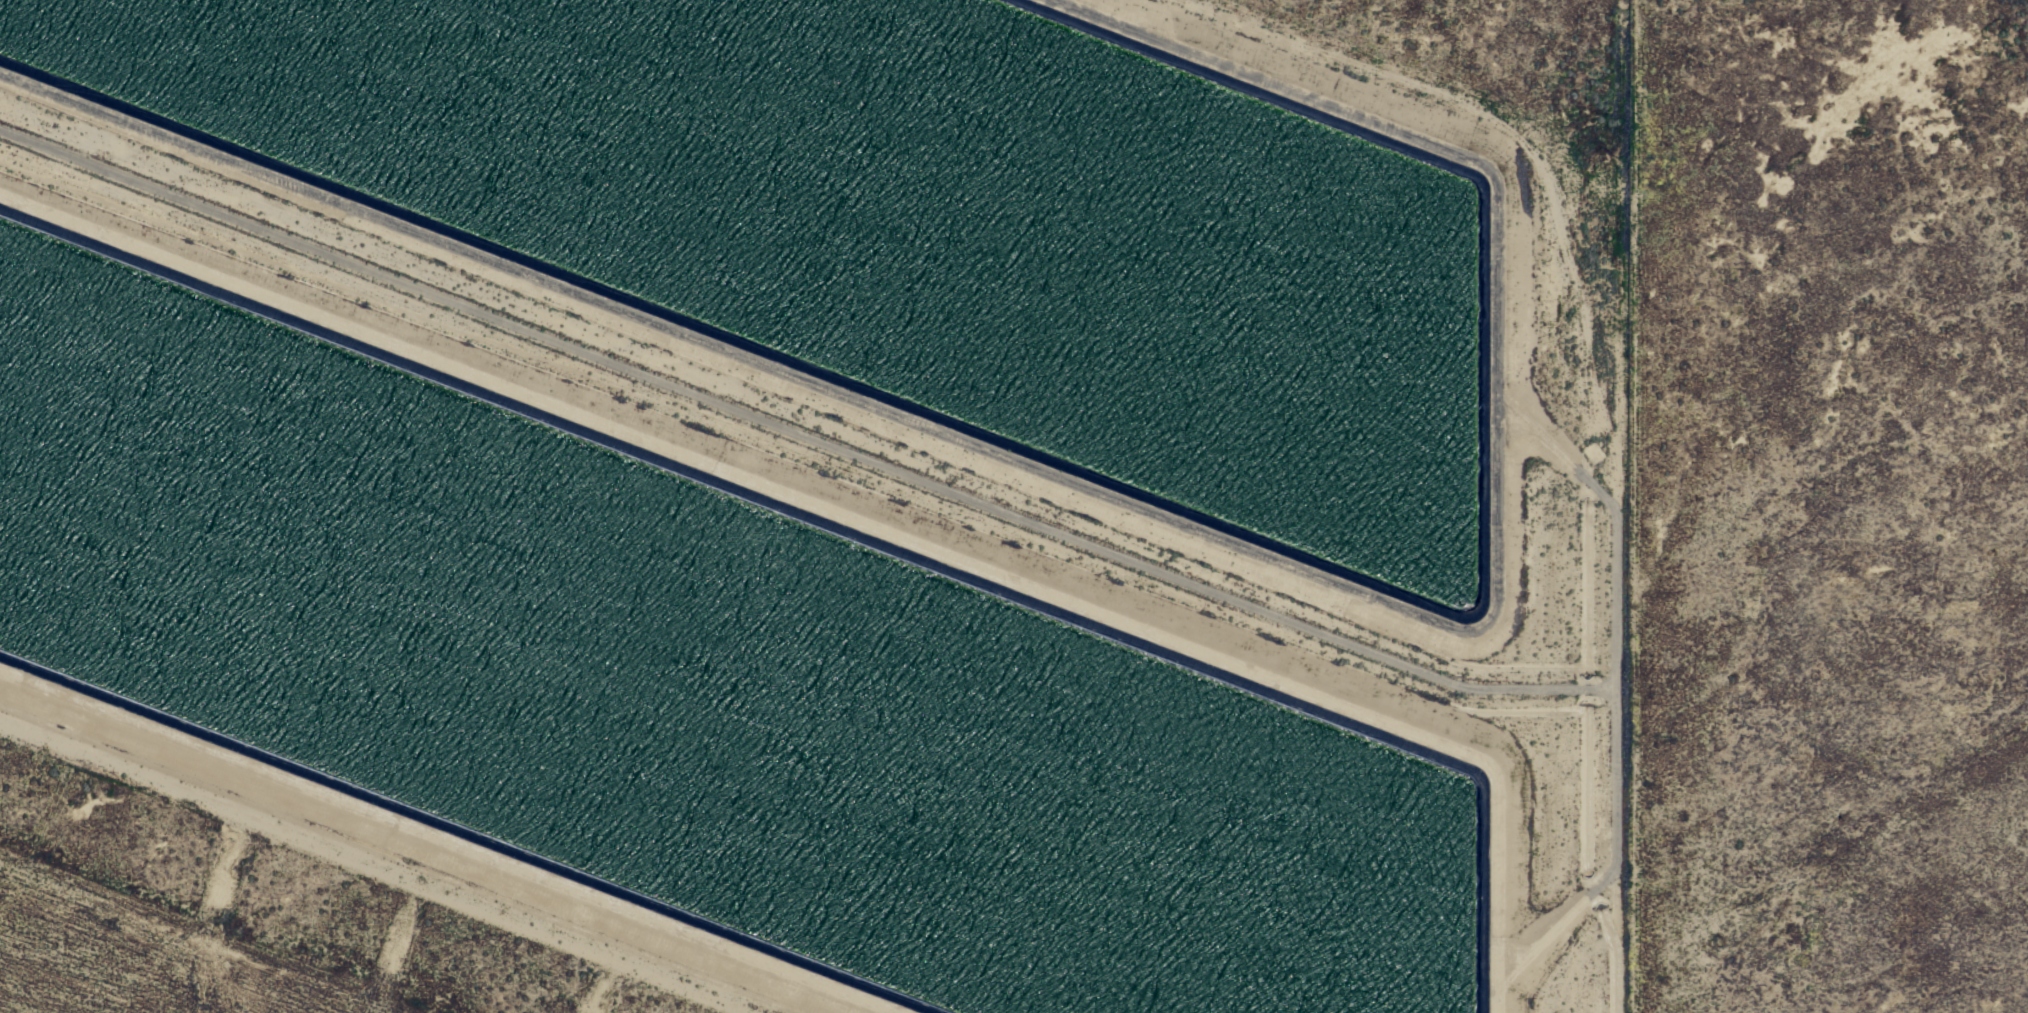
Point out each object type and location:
wastewater plant: (796, 474)

